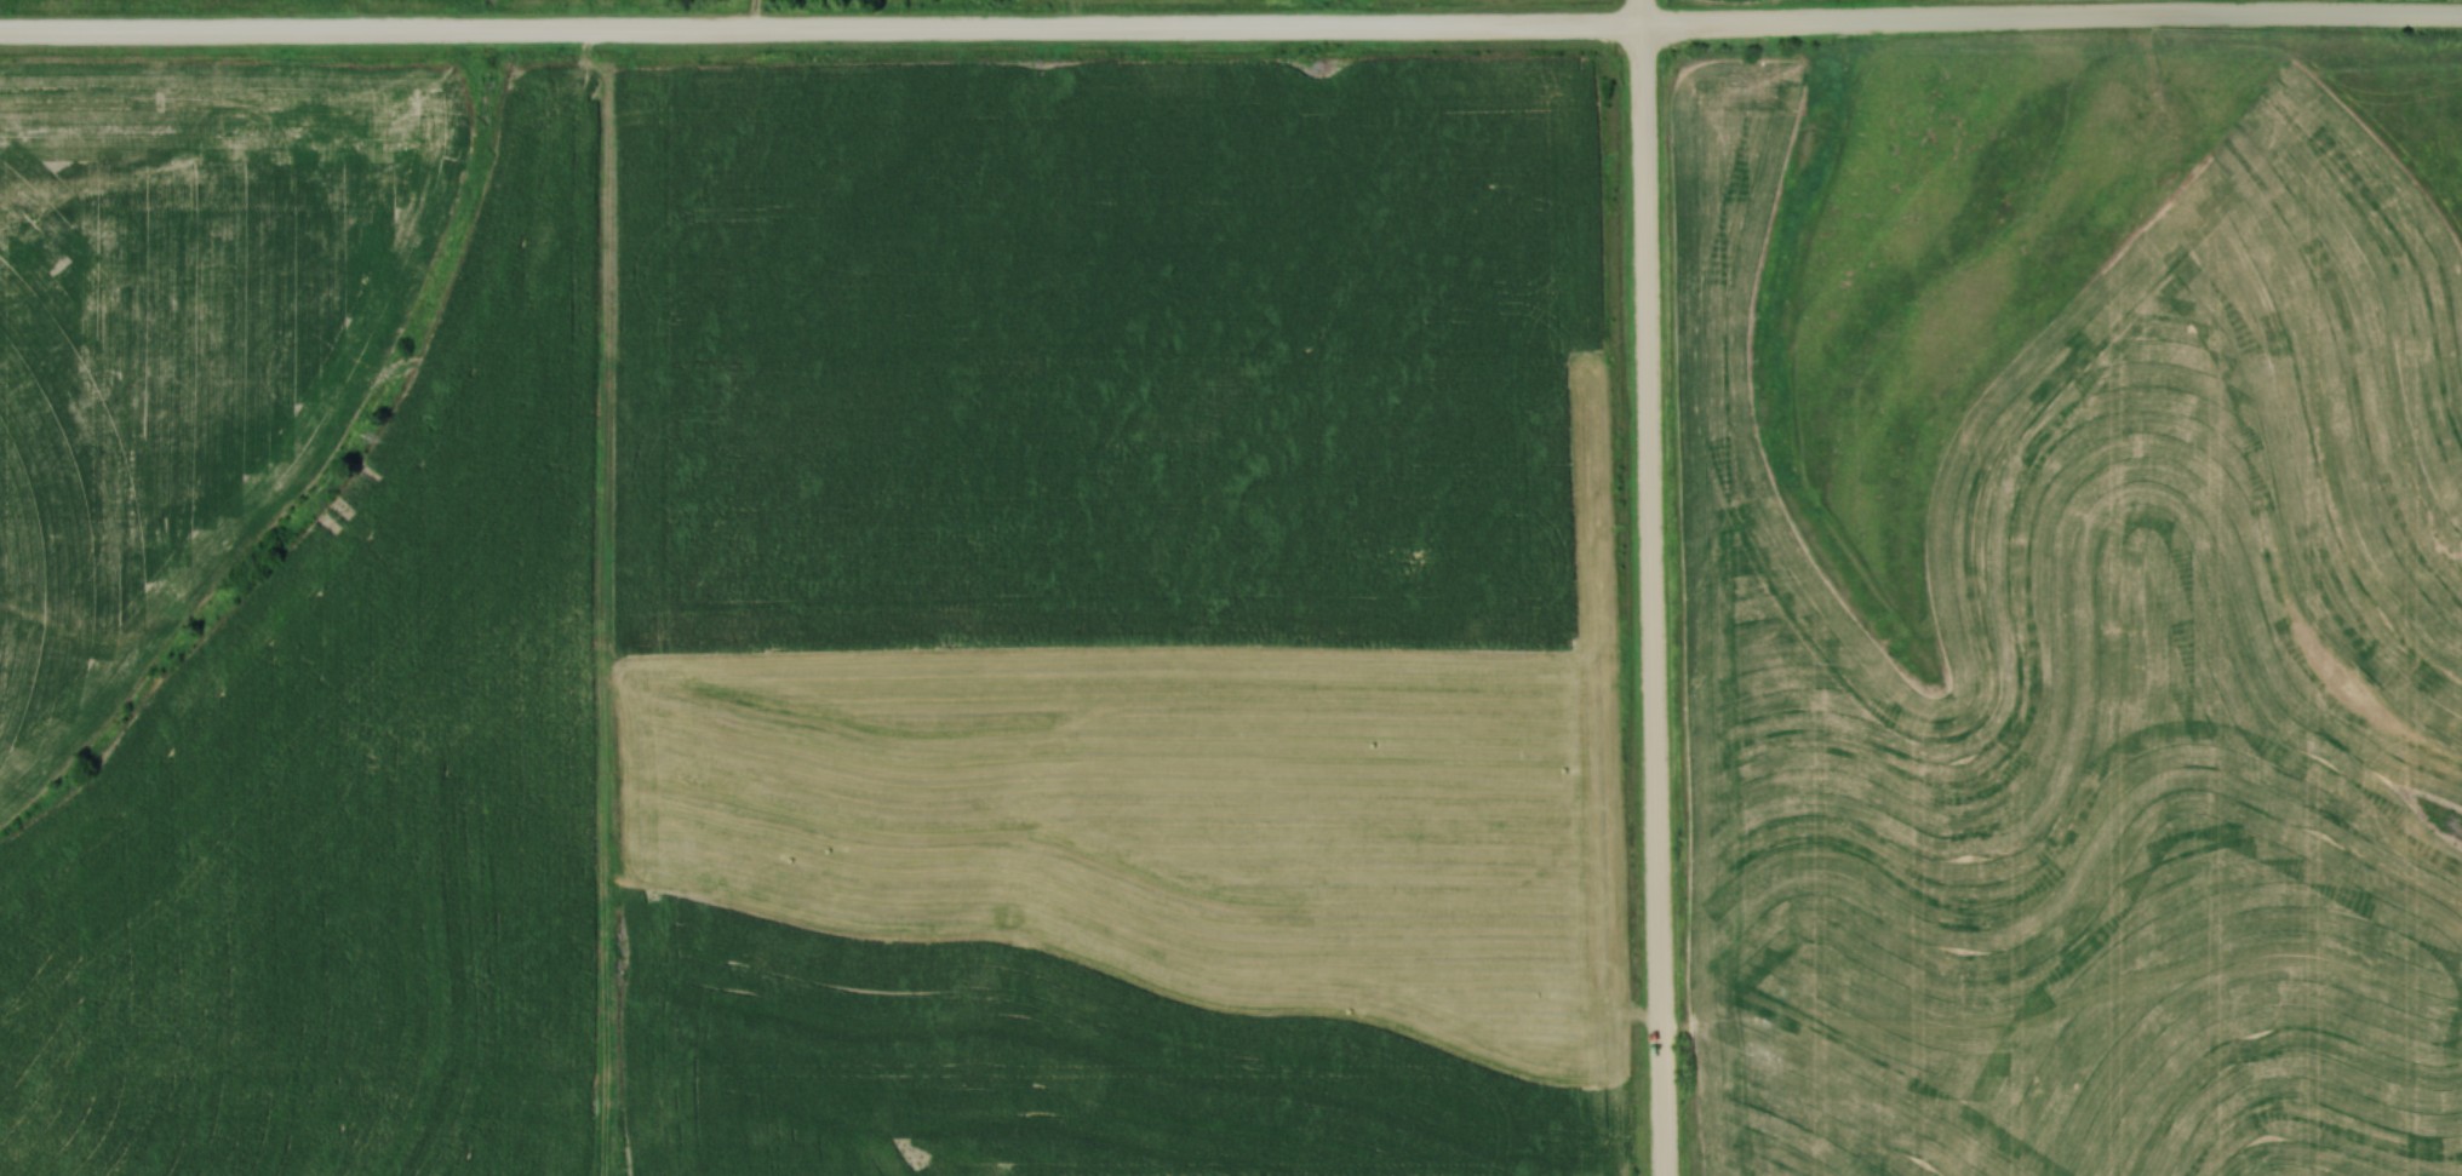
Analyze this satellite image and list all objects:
road: (1231, 24)
road: (1653, 587)

